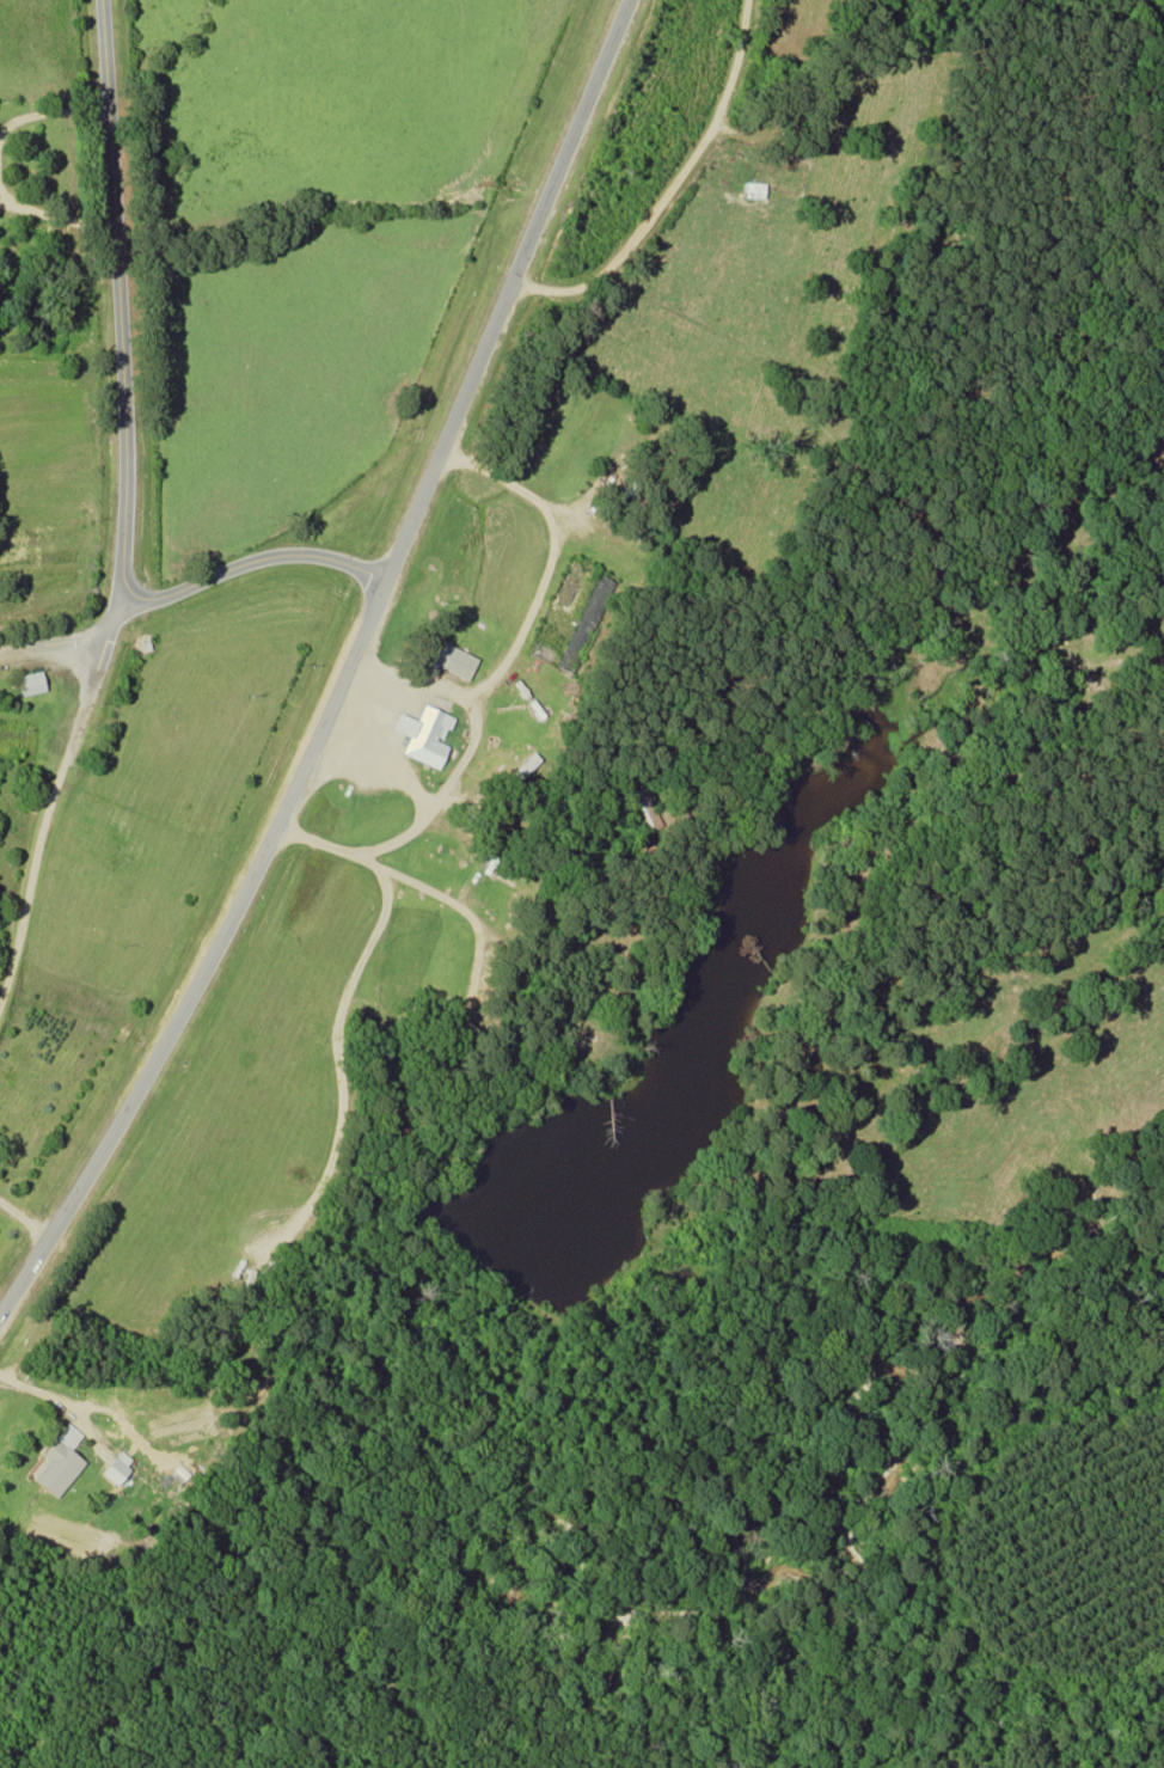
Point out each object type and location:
road: (672, 181)
building: (751, 188)
road: (120, 300)
road: (253, 558)
road: (53, 638)
building: (451, 657)
building: (29, 681)
road: (354, 681)
building: (421, 732)
building: (396, 738)
road: (53, 795)
road: (29, 1216)
building: (56, 1461)
building: (115, 1466)

